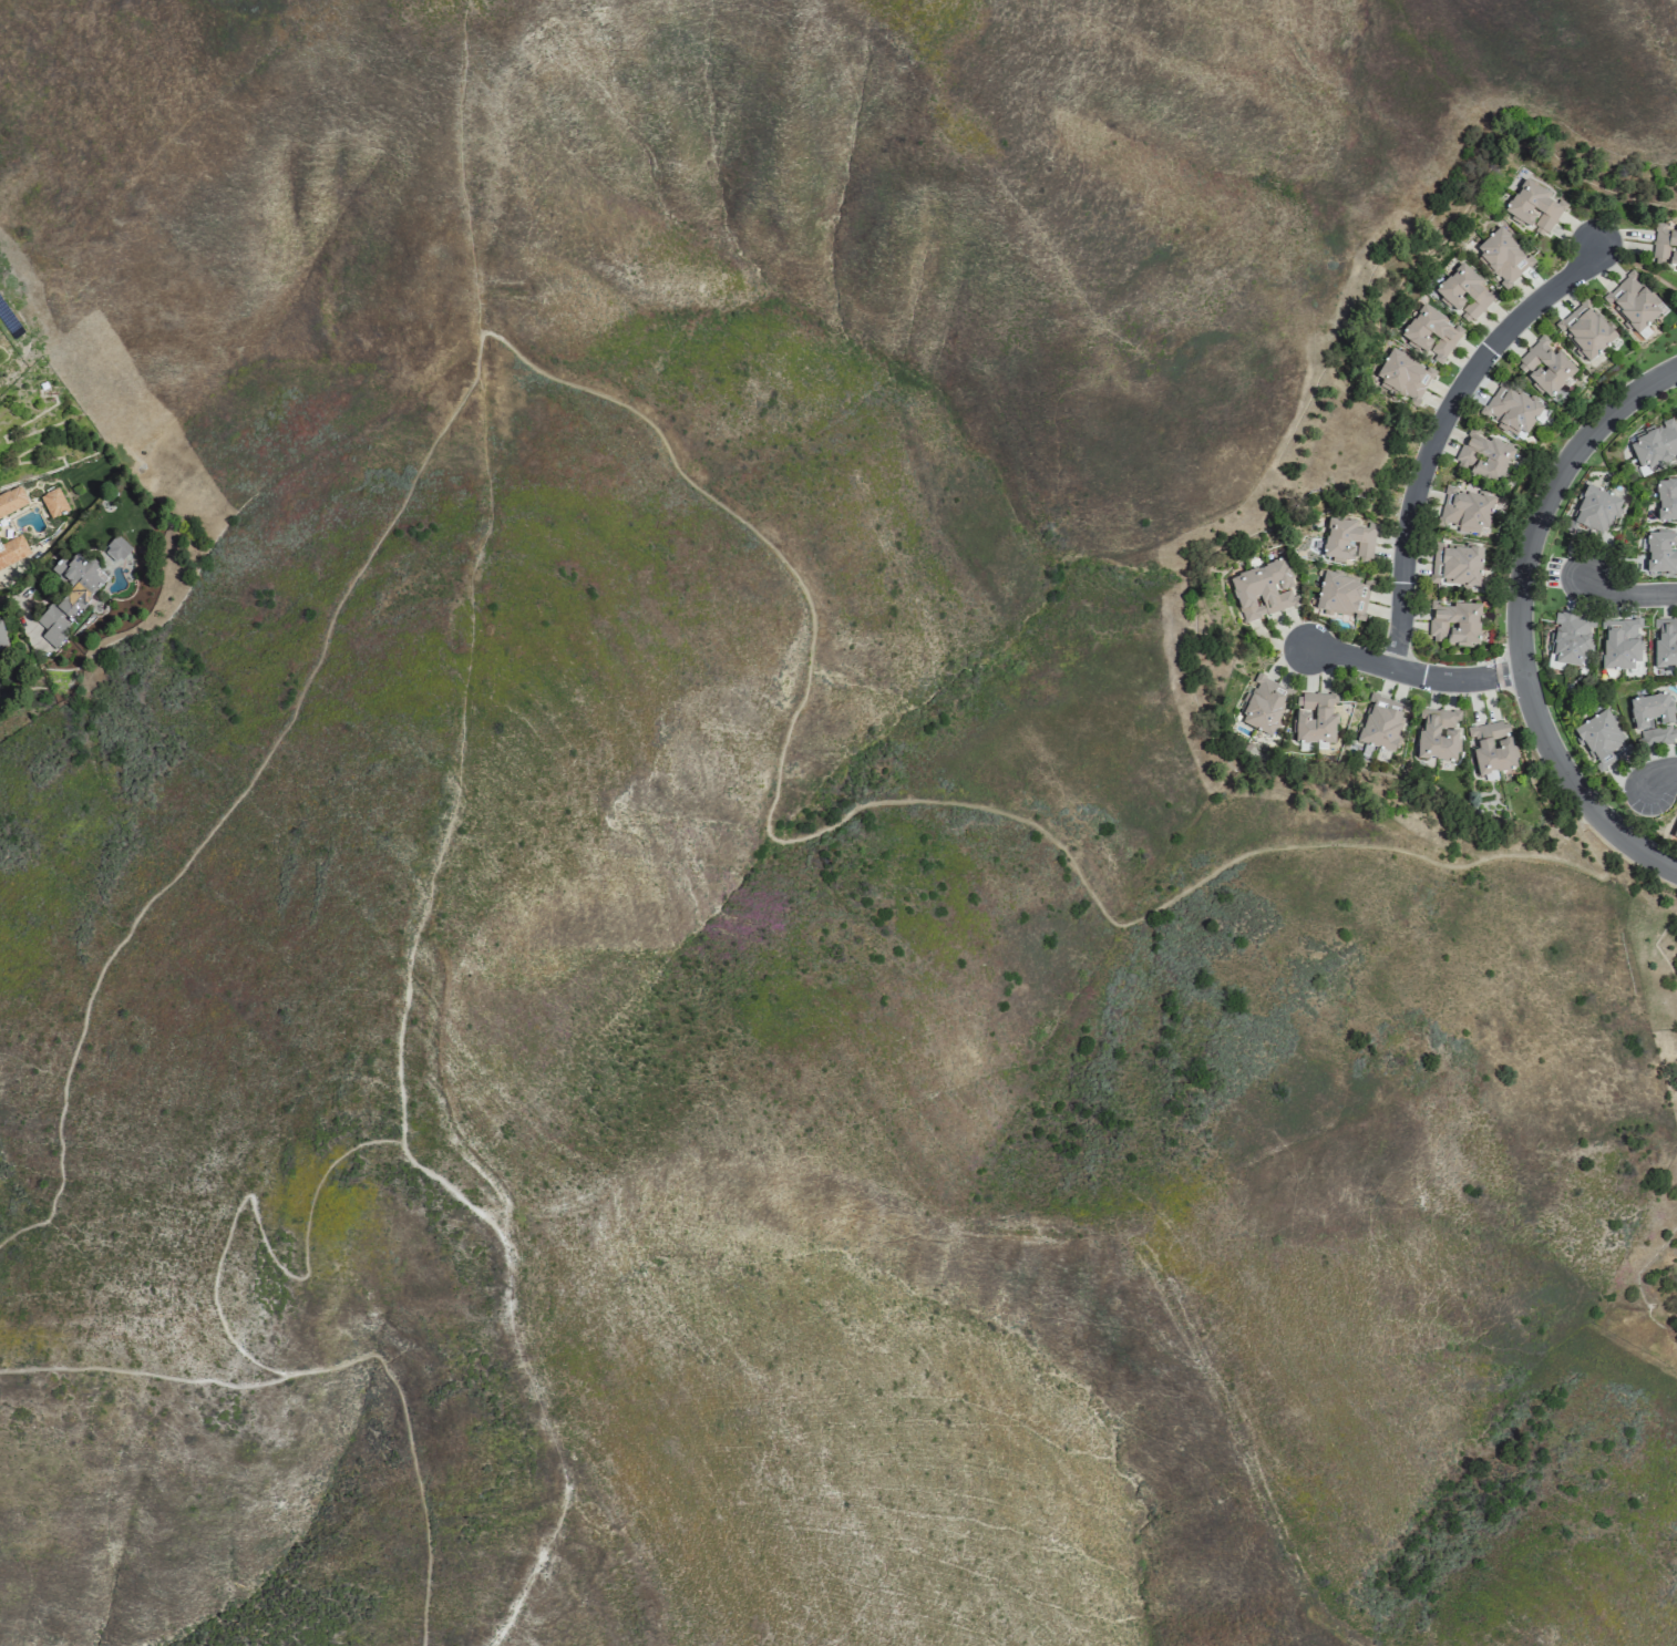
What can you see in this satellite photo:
building: (1532, 203)
building: (1669, 247)
building: (1463, 294)
building: (1632, 302)
building: (1430, 332)
building: (1584, 332)
building: (1544, 368)
building: (1401, 376)
building: (1511, 410)
road: (1443, 425)
building: (1655, 446)
building: (1483, 457)
building: (1666, 500)
building: (11, 501)
building: (52, 502)
building: (1464, 511)
building: (1594, 511)
building: (1348, 538)
building: (12, 551)
building: (113, 552)
building: (1659, 554)
building: (1458, 567)
building: (1263, 589)
building: (69, 595)
building: (1342, 596)
road: (1630, 596)
road: (16, 601)
road: (1522, 621)
building: (1453, 623)
building: (1, 634)
building: (1568, 640)
building: (1665, 642)
building: (38, 645)
building: (1619, 645)
road: (1417, 677)
building: (1263, 704)
building: (1649, 710)
building: (1313, 719)
building: (1379, 722)
building: (1437, 734)
building: (1601, 739)
building: (1492, 748)
road: (1660, 773)
road: (239, 796)
road: (930, 802)
building: (1675, 833)
road: (397, 1035)
road: (259, 1233)
road: (337, 1365)

